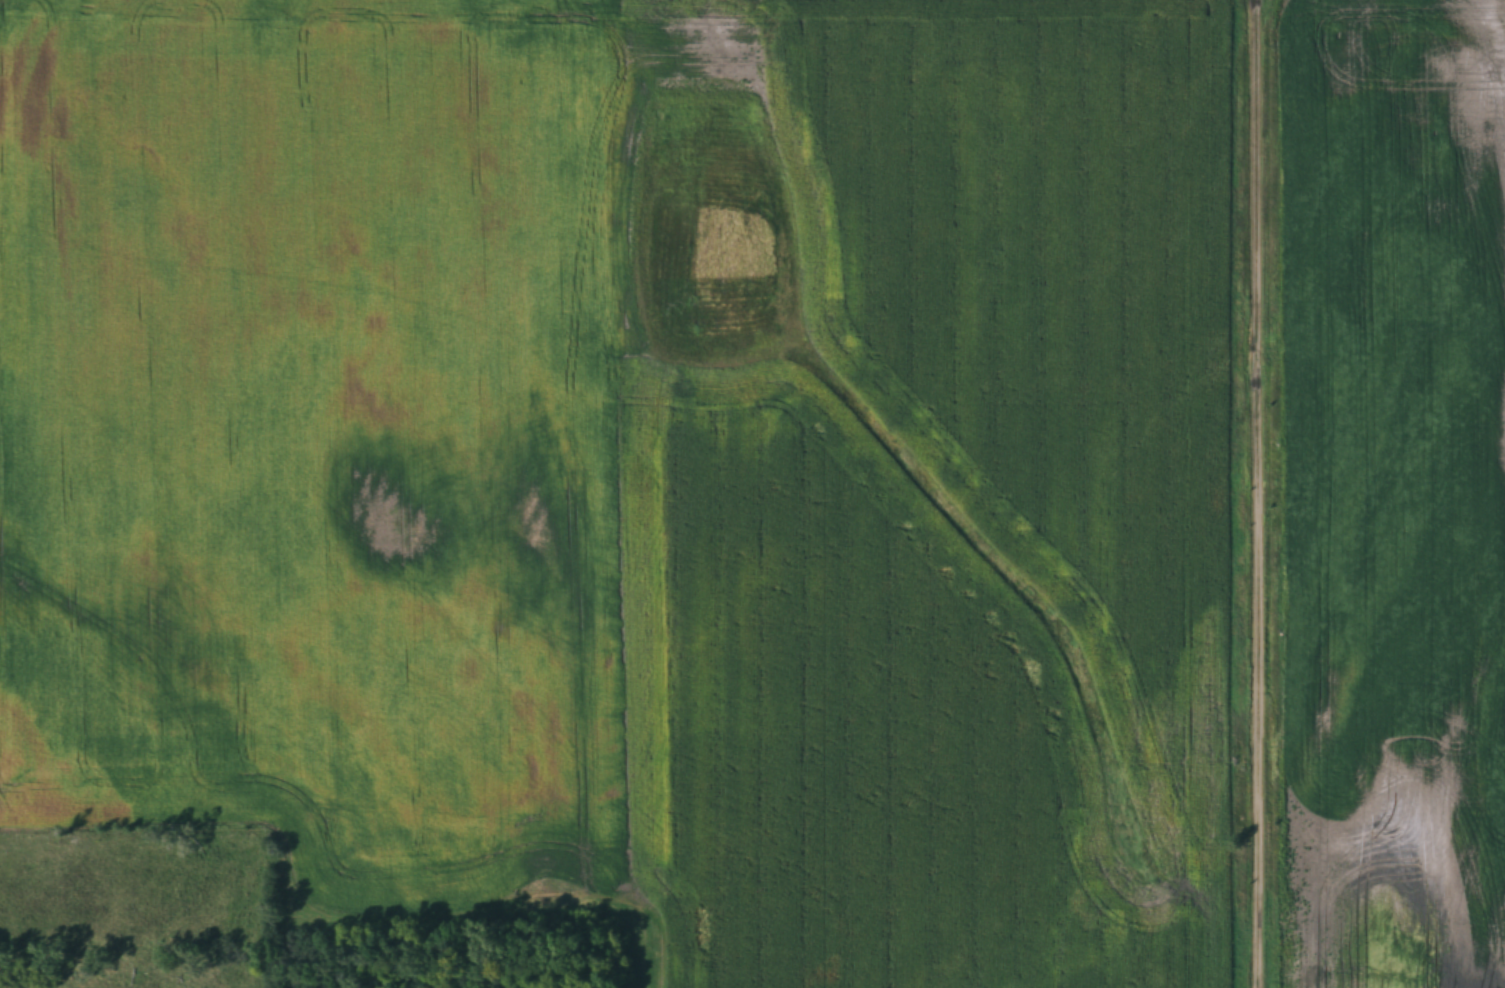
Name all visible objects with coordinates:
road: (1260, 493)

